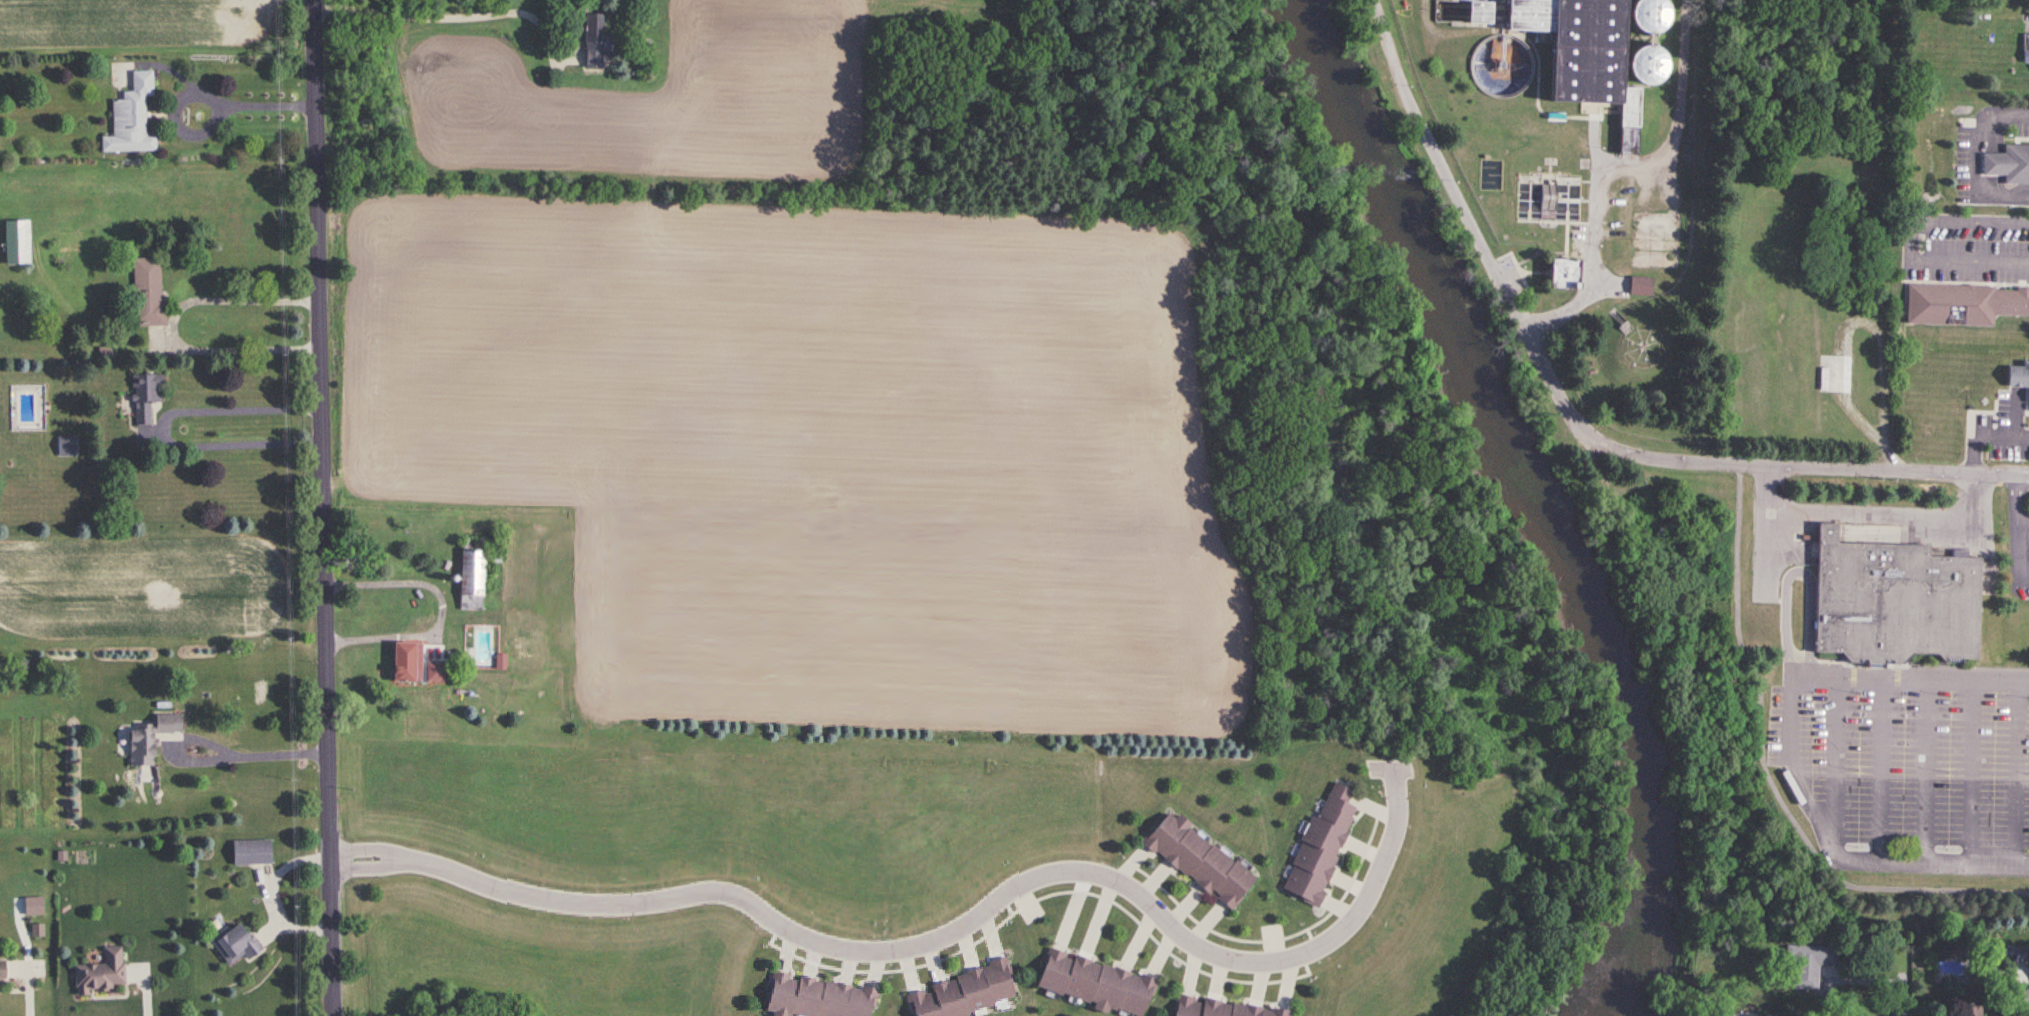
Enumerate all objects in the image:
building: (1477, 12)
building: (1649, 16)
road: (454, 20)
building: (594, 41)
building: (1577, 50)
building: (2025, 51)
building: (1647, 64)
road: (256, 110)
building: (130, 119)
road: (1974, 163)
building: (2008, 165)
building: (16, 242)
park: (1445, 242)
road: (1906, 245)
building: (1563, 274)
building: (1643, 286)
building: (147, 292)
building: (1964, 305)
road: (172, 327)
building: (2018, 378)
building: (146, 397)
road: (1575, 419)
road: (164, 435)
road: (1983, 437)
building: (65, 445)
river: (1534, 498)
road: (326, 507)
road: (1868, 515)
road: (2021, 526)
road: (2014, 530)
building: (470, 574)
road: (2025, 582)
building: (1892, 602)
road: (442, 609)
building: (404, 671)
building: (433, 673)
building: (148, 738)
road: (1787, 749)
road: (260, 759)
road: (2016, 772)
building: (1318, 845)
building: (251, 851)
building: (1197, 858)
road: (944, 938)
building: (235, 942)
building: (2015, 952)
building: (1809, 962)
building: (1, 969)
building: (101, 972)
building: (1096, 983)
building: (965, 993)
road: (28, 994)
road: (144, 996)
building: (817, 997)
building: (1219, 1007)
building: (1965, 1010)
road: (1910, 1014)

